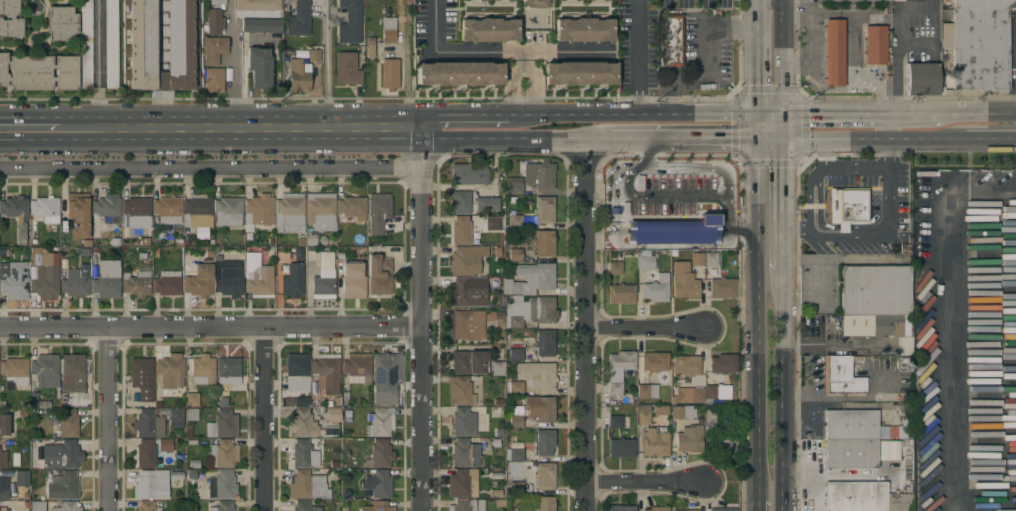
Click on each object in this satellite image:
building: (490, 0)
building: (860, 0)
building: (215, 2)
building: (536, 3)
building: (984, 4)
building: (258, 5)
road: (812, 8)
building: (288, 9)
building: (10, 19)
building: (299, 19)
building: (215, 21)
building: (350, 22)
building: (61, 24)
building: (261, 25)
building: (389, 30)
building: (583, 30)
building: (489, 31)
building: (141, 37)
building: (671, 40)
building: (290, 42)
building: (85, 44)
building: (111, 44)
building: (874, 45)
building: (370, 47)
building: (214, 50)
building: (979, 50)
road: (452, 52)
road: (537, 52)
building: (833, 53)
building: (314, 55)
road: (639, 55)
road: (751, 55)
road: (782, 55)
road: (702, 59)
road: (1014, 63)
road: (327, 64)
road: (96, 65)
road: (233, 65)
building: (259, 67)
building: (346, 68)
building: (38, 72)
building: (389, 74)
building: (460, 74)
building: (580, 74)
building: (298, 76)
building: (921, 79)
building: (214, 80)
road: (466, 111)
road: (629, 111)
traffic signals: (751, 111)
road: (767, 111)
traffic signals: (783, 111)
road: (835, 111)
road: (912, 112)
road: (977, 112)
road: (751, 125)
road: (783, 126)
road: (887, 126)
road: (245, 129)
road: (28, 130)
road: (517, 139)
road: (636, 140)
road: (707, 140)
traffic signals: (751, 140)
road: (767, 140)
traffic signals: (783, 141)
road: (835, 141)
road: (926, 141)
road: (990, 141)
road: (647, 153)
road: (212, 169)
road: (722, 169)
building: (468, 175)
building: (541, 177)
road: (781, 183)
building: (513, 186)
building: (460, 202)
building: (487, 204)
building: (847, 206)
building: (45, 209)
building: (353, 209)
building: (167, 210)
building: (544, 210)
building: (136, 211)
building: (290, 211)
building: (320, 211)
building: (197, 212)
building: (228, 212)
building: (258, 212)
building: (378, 212)
building: (106, 213)
building: (78, 214)
building: (17, 215)
building: (515, 221)
building: (492, 224)
building: (669, 226)
building: (460, 230)
road: (881, 234)
building: (310, 239)
building: (544, 243)
road: (780, 247)
building: (515, 255)
building: (697, 259)
building: (644, 260)
building: (710, 260)
building: (464, 262)
building: (614, 268)
building: (44, 273)
building: (379, 275)
building: (197, 277)
building: (257, 277)
building: (324, 278)
building: (530, 279)
building: (13, 280)
building: (107, 280)
building: (292, 280)
building: (353, 280)
building: (683, 281)
building: (76, 283)
building: (229, 283)
building: (136, 284)
building: (168, 284)
building: (722, 288)
building: (656, 289)
building: (469, 292)
building: (621, 294)
building: (871, 295)
building: (528, 310)
road: (424, 319)
road: (952, 320)
road: (751, 322)
building: (470, 325)
road: (592, 325)
road: (211, 330)
road: (650, 330)
building: (894, 330)
building: (544, 343)
building: (515, 350)
building: (468, 362)
building: (654, 362)
building: (723, 364)
building: (686, 366)
building: (228, 367)
building: (357, 368)
building: (297, 369)
building: (497, 369)
building: (202, 370)
building: (618, 370)
building: (15, 371)
building: (45, 371)
building: (170, 371)
building: (71, 373)
building: (326, 373)
building: (537, 375)
building: (840, 375)
building: (142, 377)
building: (386, 378)
building: (516, 388)
road: (780, 390)
building: (460, 391)
building: (647, 391)
building: (716, 393)
building: (689, 395)
building: (192, 400)
building: (37, 401)
building: (540, 409)
building: (681, 413)
building: (191, 414)
building: (643, 414)
building: (711, 416)
building: (516, 417)
building: (175, 418)
road: (265, 420)
road: (110, 421)
building: (381, 422)
building: (463, 422)
building: (615, 422)
building: (68, 423)
building: (149, 424)
building: (223, 424)
building: (303, 424)
building: (4, 425)
building: (55, 427)
building: (689, 439)
building: (655, 442)
building: (544, 443)
building: (723, 444)
building: (165, 445)
building: (621, 448)
building: (887, 450)
building: (515, 451)
building: (36, 452)
building: (464, 453)
building: (145, 454)
building: (222, 454)
building: (61, 455)
building: (303, 455)
building: (379, 455)
building: (3, 460)
building: (541, 475)
building: (22, 478)
building: (514, 481)
building: (151, 484)
building: (377, 484)
building: (461, 484)
building: (6, 486)
building: (64, 486)
building: (219, 486)
building: (307, 486)
road: (649, 487)
building: (863, 497)
building: (545, 504)
building: (467, 505)
building: (37, 506)
building: (67, 506)
building: (147, 506)
building: (223, 506)
building: (377, 506)
building: (302, 507)
road: (753, 507)
building: (621, 508)
building: (2, 509)
building: (657, 509)
building: (684, 510)
building: (723, 510)

